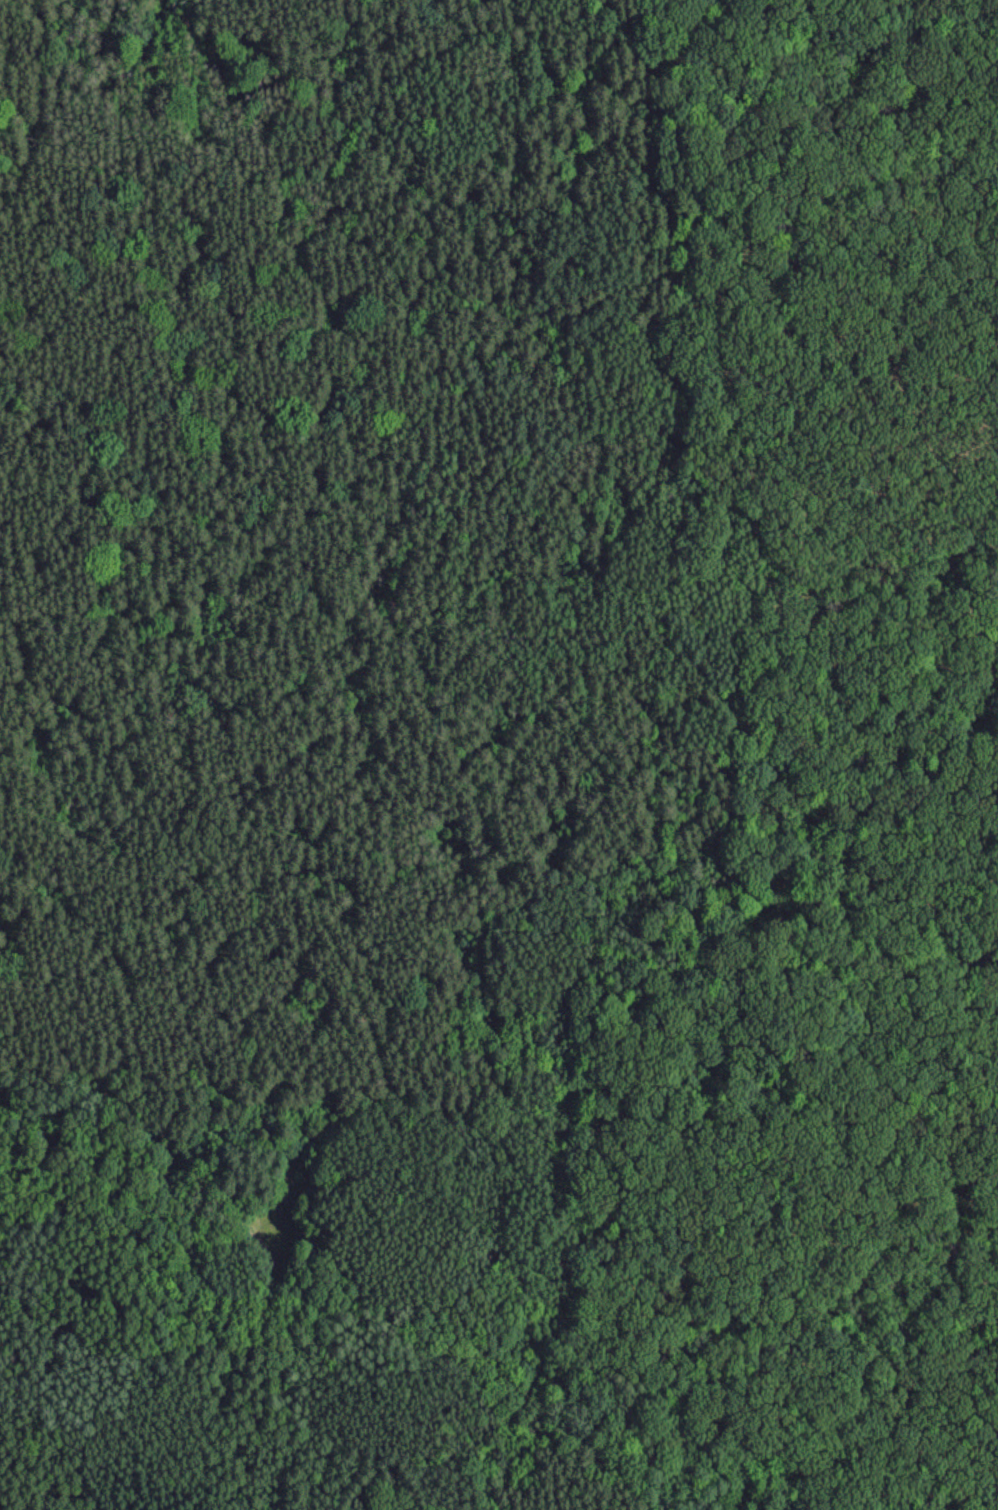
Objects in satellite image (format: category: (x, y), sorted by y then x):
road: (32, 105)
road: (286, 240)
road: (602, 953)
road: (158, 1117)

